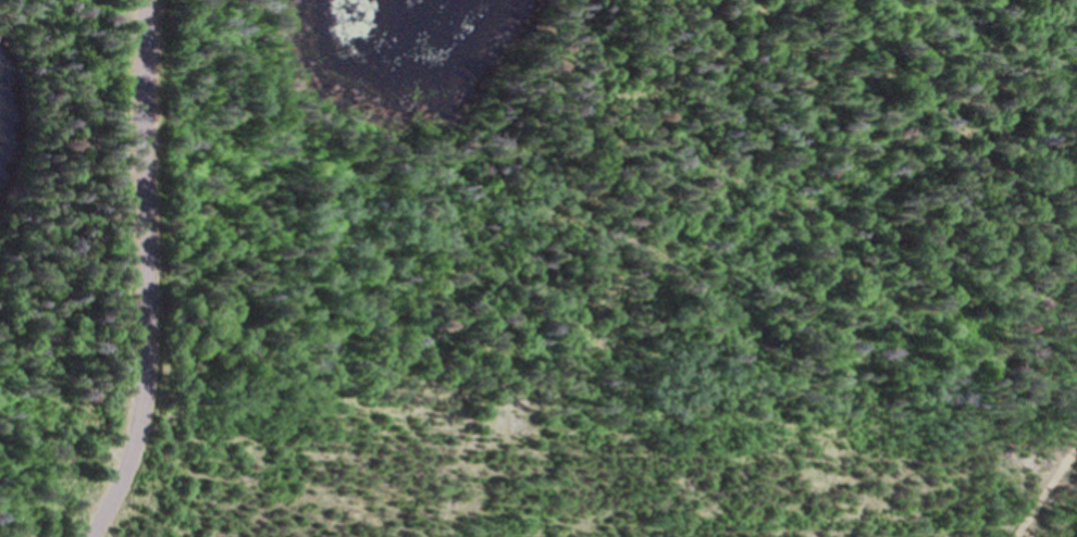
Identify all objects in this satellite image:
road: (135, 274)
road: (1039, 488)

